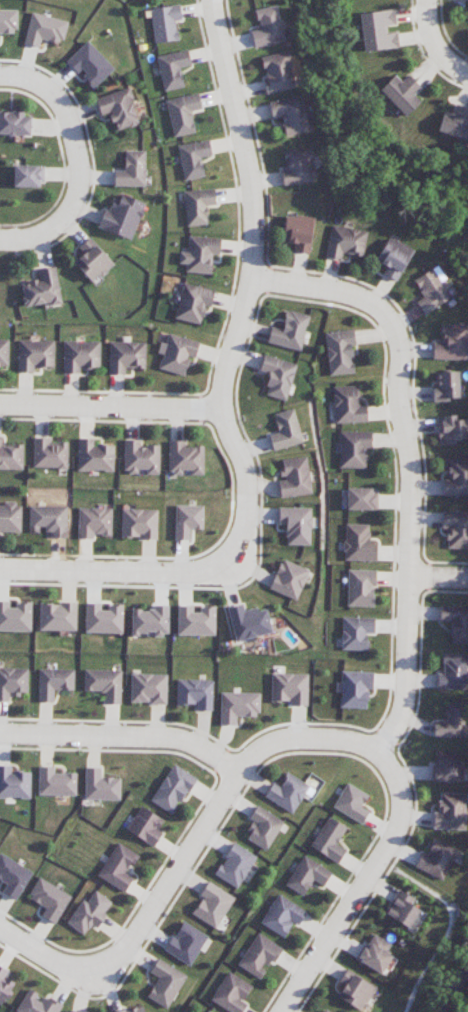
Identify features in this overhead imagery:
building: (8, 21)
building: (165, 23)
building: (268, 26)
building: (44, 30)
building: (377, 30)
road: (435, 44)
building: (90, 64)
building: (173, 69)
building: (277, 72)
road: (59, 92)
building: (401, 94)
building: (118, 108)
building: (183, 114)
building: (290, 114)
building: (455, 123)
building: (14, 124)
building: (194, 158)
building: (298, 166)
building: (132, 170)
building: (26, 176)
building: (198, 206)
building: (122, 216)
road: (68, 221)
building: (298, 232)
building: (346, 242)
building: (200, 254)
building: (394, 257)
building: (92, 261)
road: (256, 280)
building: (42, 289)
building: (432, 289)
building: (193, 304)
building: (290, 331)
building: (451, 342)
building: (4, 352)
building: (340, 352)
building: (176, 353)
building: (35, 354)
building: (80, 356)
building: (126, 356)
building: (278, 377)
building: (446, 386)
building: (348, 405)
road: (113, 409)
building: (451, 429)
building: (286, 430)
building: (354, 449)
building: (49, 454)
building: (11, 456)
building: (94, 456)
building: (140, 457)
building: (185, 458)
road: (402, 466)
building: (294, 477)
building: (457, 478)
building: (360, 498)
building: (10, 517)
building: (48, 520)
building: (187, 520)
building: (94, 522)
building: (139, 523)
building: (296, 524)
building: (456, 529)
building: (358, 543)
road: (119, 571)
road: (436, 576)
building: (289, 579)
building: (360, 588)
building: (15, 616)
building: (57, 616)
building: (103, 619)
building: (149, 621)
building: (195, 621)
building: (248, 622)
building: (456, 622)
building: (356, 632)
building: (453, 672)
building: (13, 682)
building: (54, 682)
building: (104, 684)
building: (148, 688)
building: (289, 688)
building: (355, 688)
building: (195, 693)
building: (237, 706)
building: (453, 721)
road: (124, 739)
building: (446, 767)
building: (56, 782)
building: (14, 783)
building: (100, 785)
building: (172, 789)
building: (286, 793)
building: (351, 803)
building: (450, 811)
building: (145, 826)
building: (263, 828)
building: (329, 840)
building: (436, 859)
building: (235, 865)
building: (118, 867)
road: (177, 867)
building: (307, 875)
building: (13, 877)
road: (360, 882)
building: (49, 899)
building: (212, 905)
building: (402, 909)
building: (89, 913)
building: (282, 915)
road: (451, 920)
building: (185, 943)
park: (432, 953)
building: (374, 954)
building: (259, 956)
building: (165, 983)
building: (4, 985)
building: (354, 990)
building: (231, 993)
building: (37, 1003)
building: (134, 1009)
building: (207, 1011)
building: (324, 1011)

